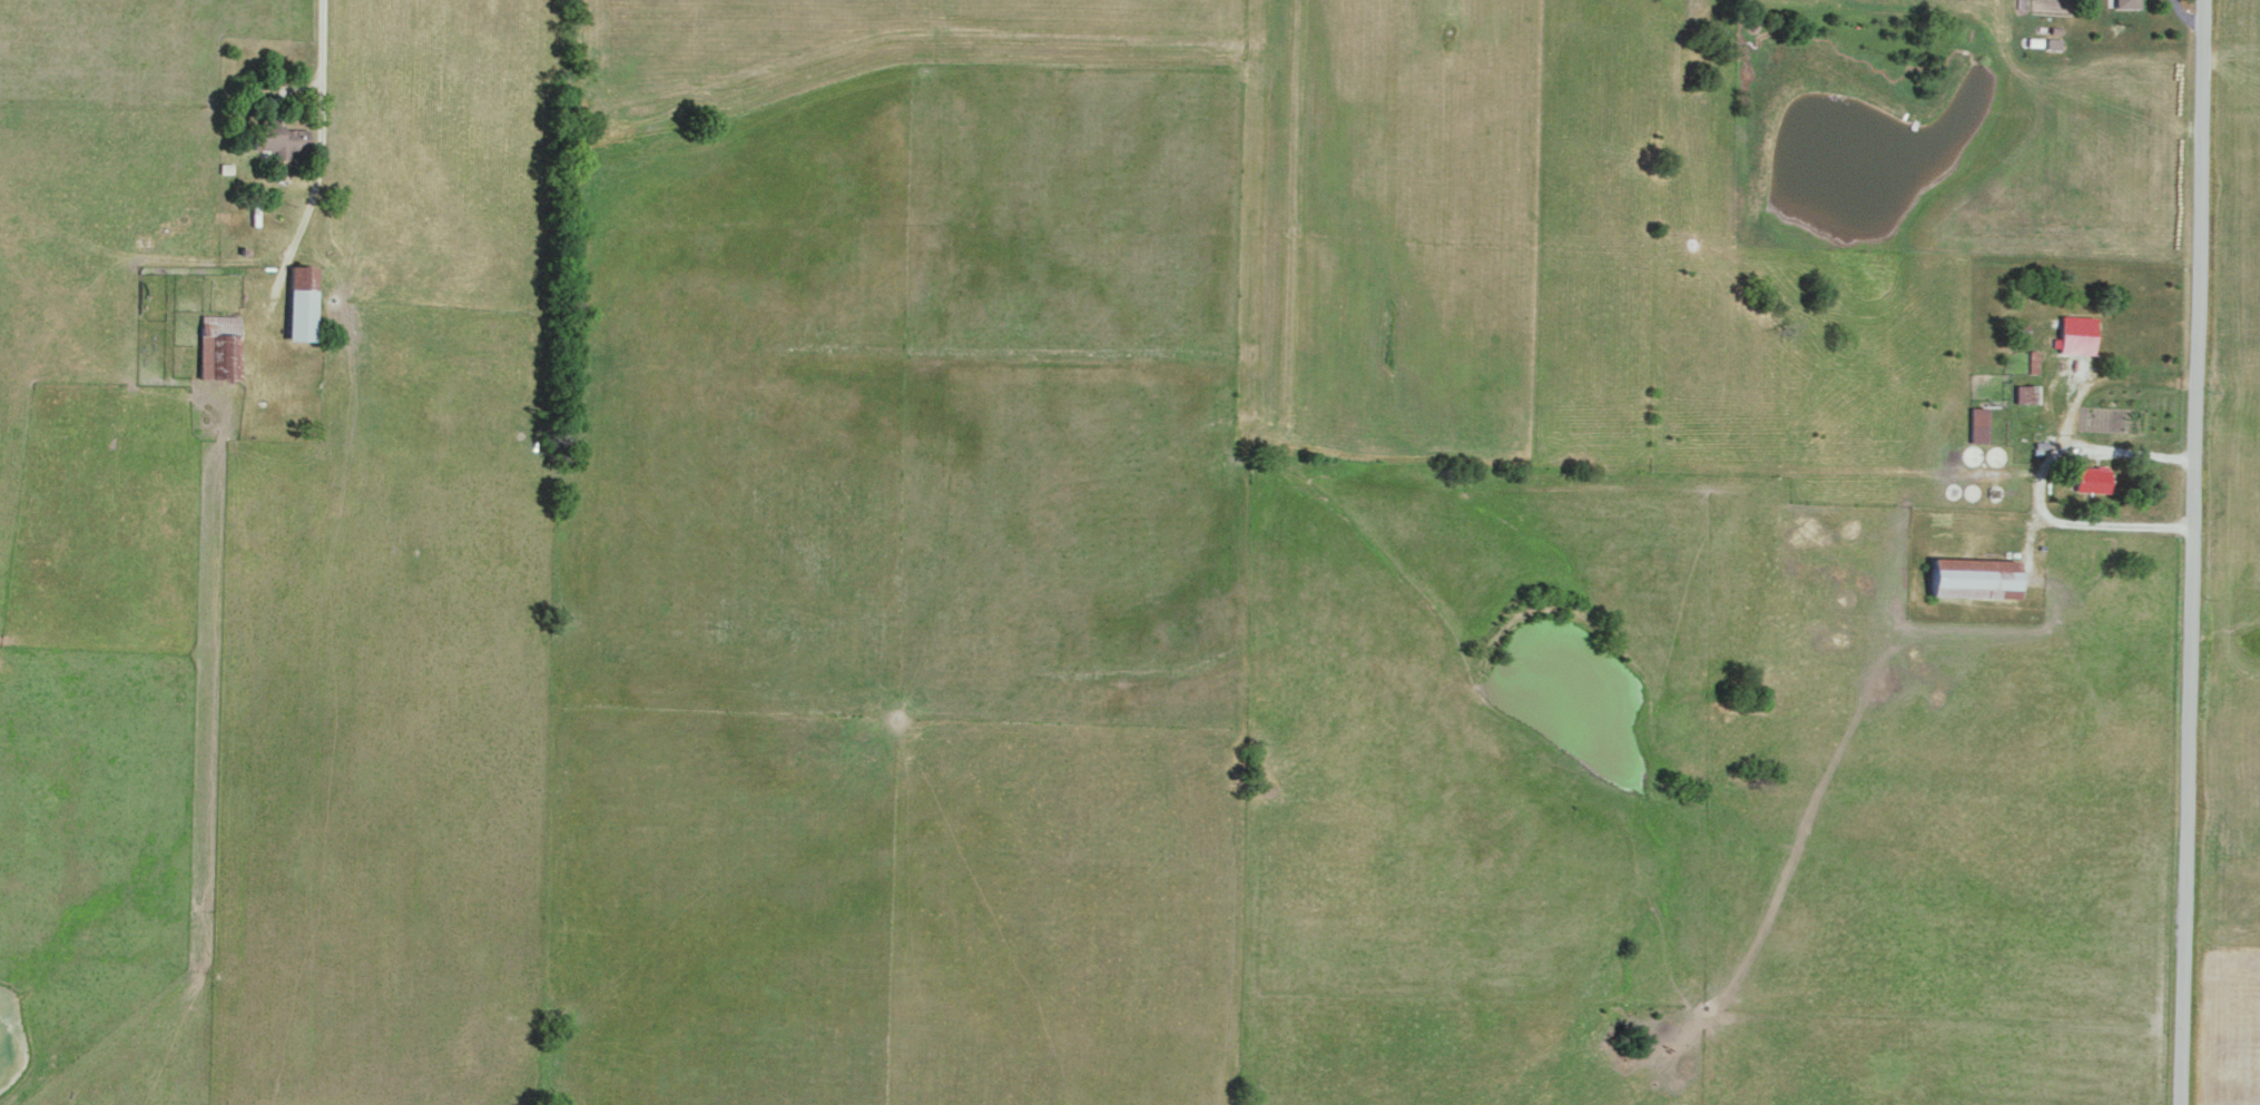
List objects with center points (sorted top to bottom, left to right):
building: (2128, 2)
road: (322, 103)
building: (281, 140)
building: (297, 303)
building: (2073, 334)
building: (216, 347)
building: (2032, 361)
building: (1976, 424)
building: (2089, 477)
road: (2041, 486)
road: (2188, 552)
building: (1971, 578)

